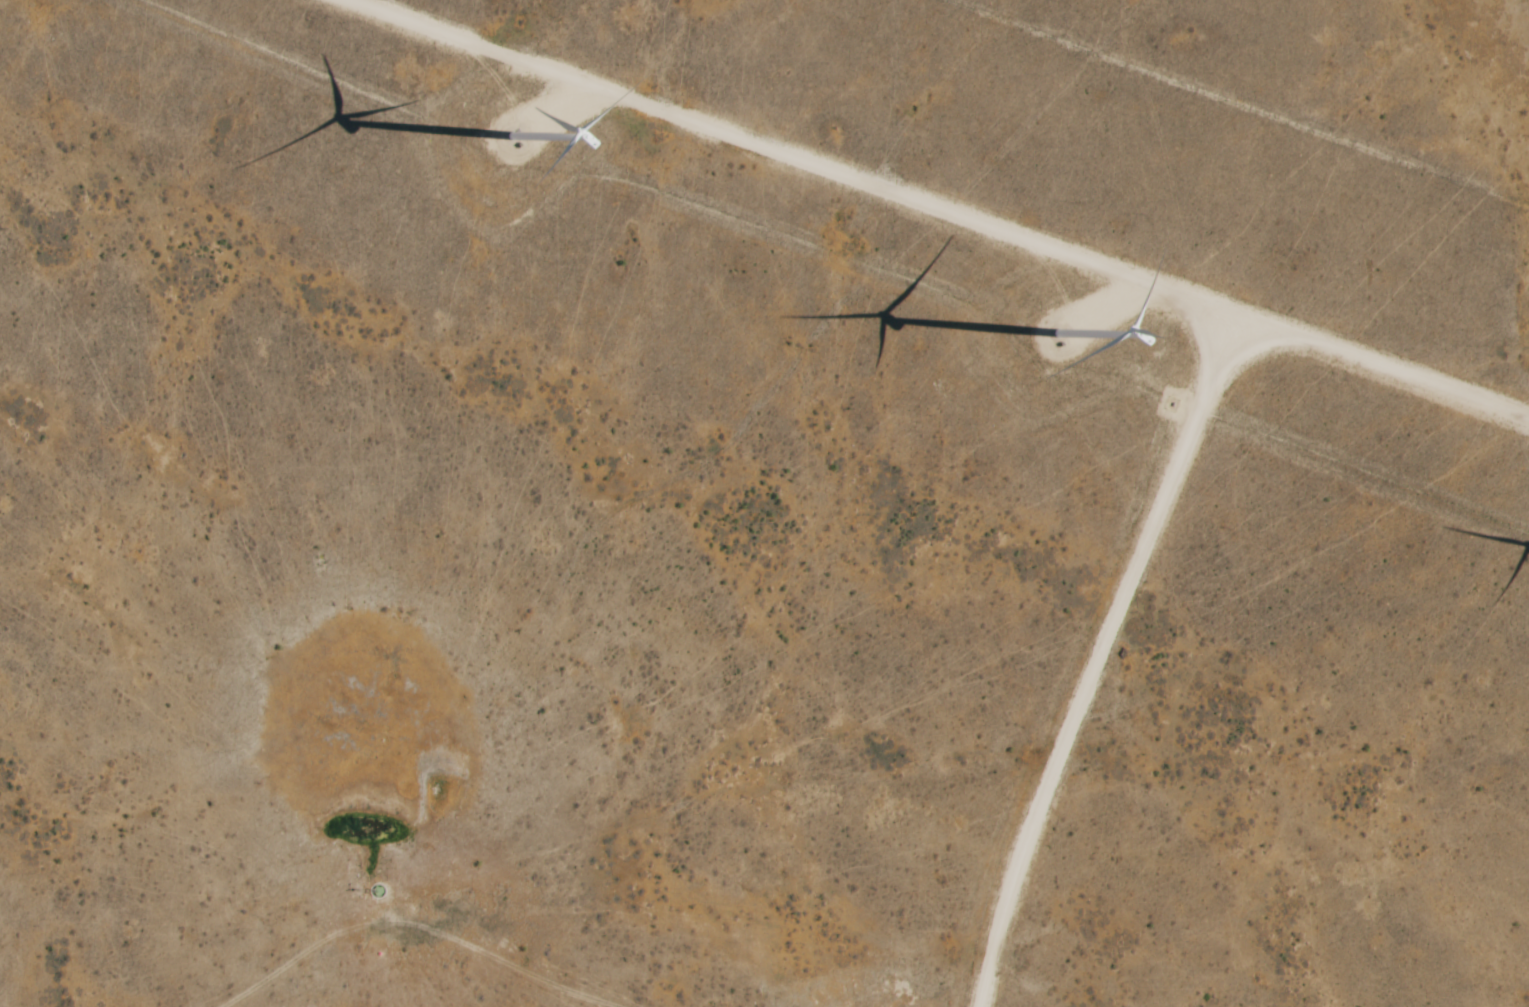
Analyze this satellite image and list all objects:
wind turbine: (510, 130)
road: (1154, 280)
wind turbine: (1050, 330)

